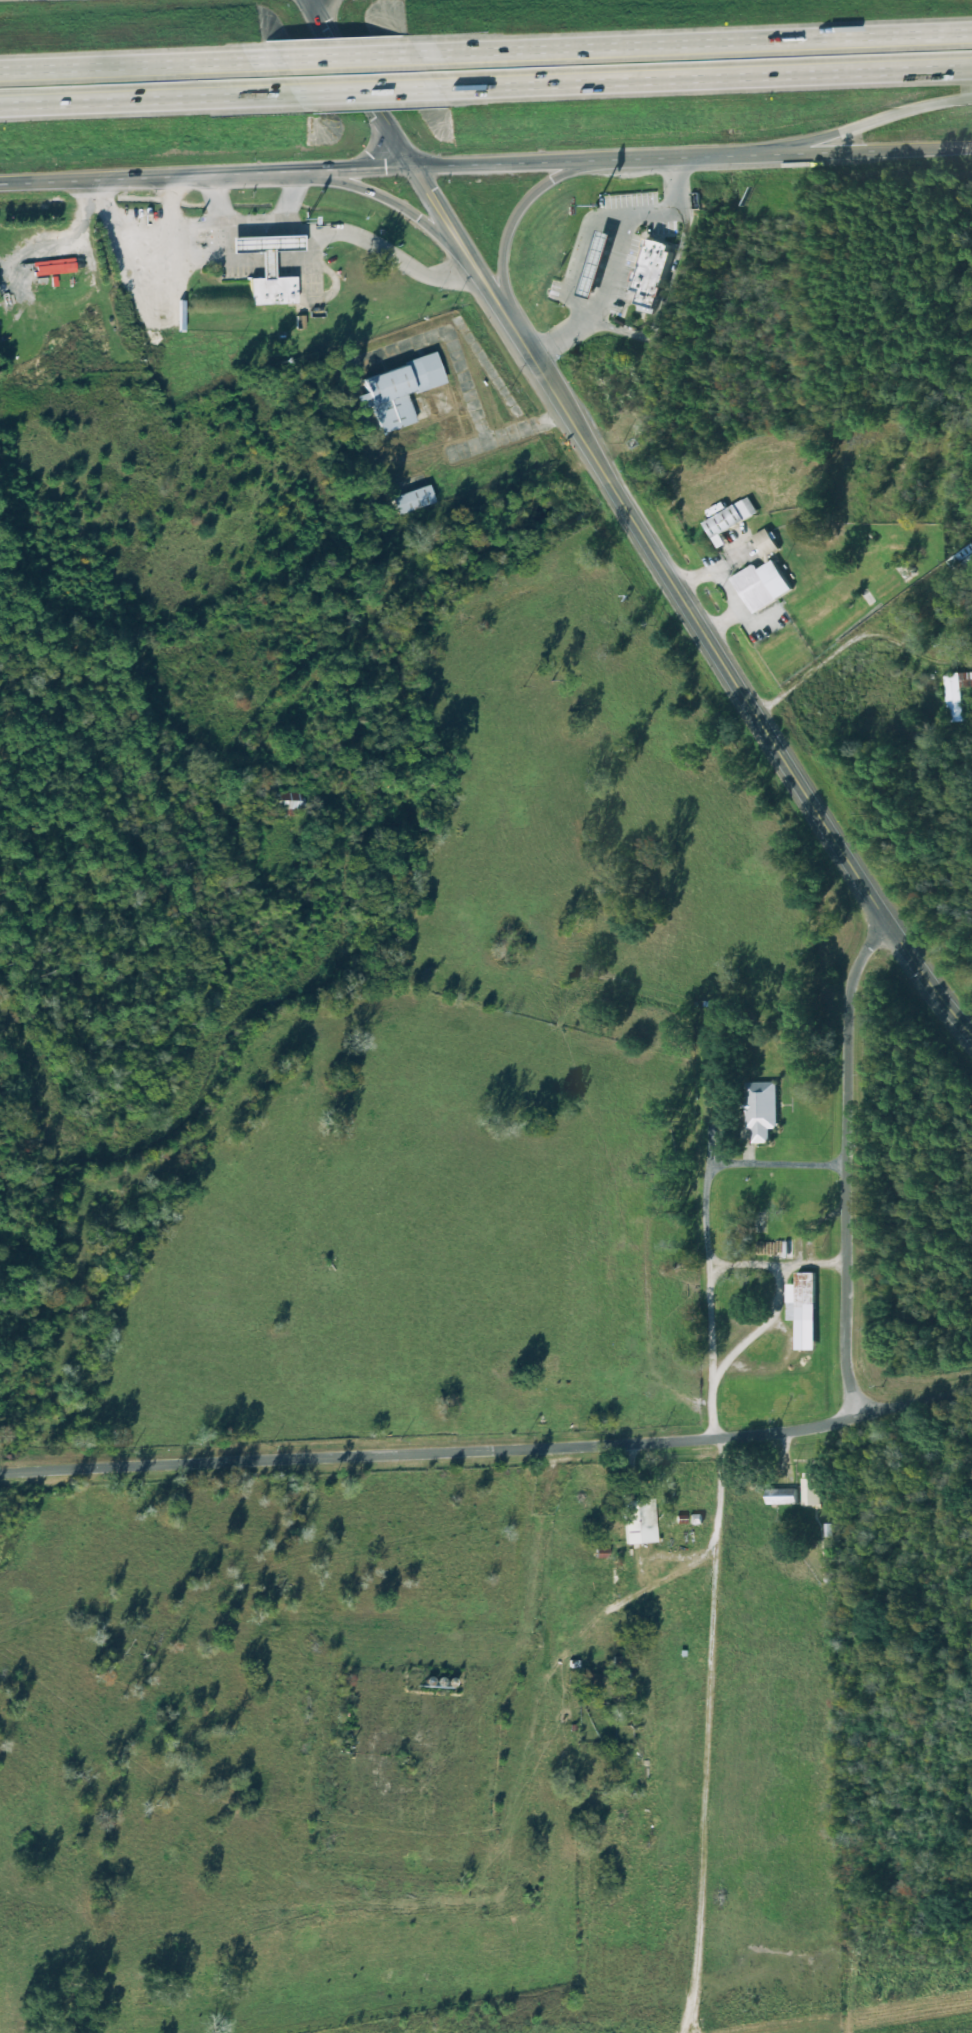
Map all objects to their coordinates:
road: (319, 18)
road: (693, 45)
road: (344, 57)
road: (137, 65)
road: (353, 75)
road: (703, 75)
road: (366, 88)
road: (149, 98)
road: (849, 127)
road: (395, 139)
road: (849, 151)
road: (570, 160)
road: (206, 174)
road: (371, 191)
road: (296, 193)
road: (171, 202)
road: (438, 208)
road: (514, 215)
road: (334, 224)
road: (145, 230)
building: (267, 246)
gas station: (267, 246)
building: (600, 262)
gas station: (600, 262)
road: (622, 264)
building: (55, 265)
building: (654, 271)
building: (272, 288)
road: (491, 296)
road: (451, 343)
building: (399, 390)
road: (503, 429)
building: (411, 498)
building: (731, 518)
building: (766, 541)
road: (398, 571)
building: (763, 584)
road: (843, 645)
road: (740, 691)
building: (287, 799)
building: (762, 1109)
road: (848, 1160)
road: (776, 1164)
road: (702, 1224)
road: (775, 1264)
building: (803, 1309)
road: (757, 1331)
road: (488, 1447)
building: (811, 1488)
road: (719, 1489)
building: (782, 1495)

